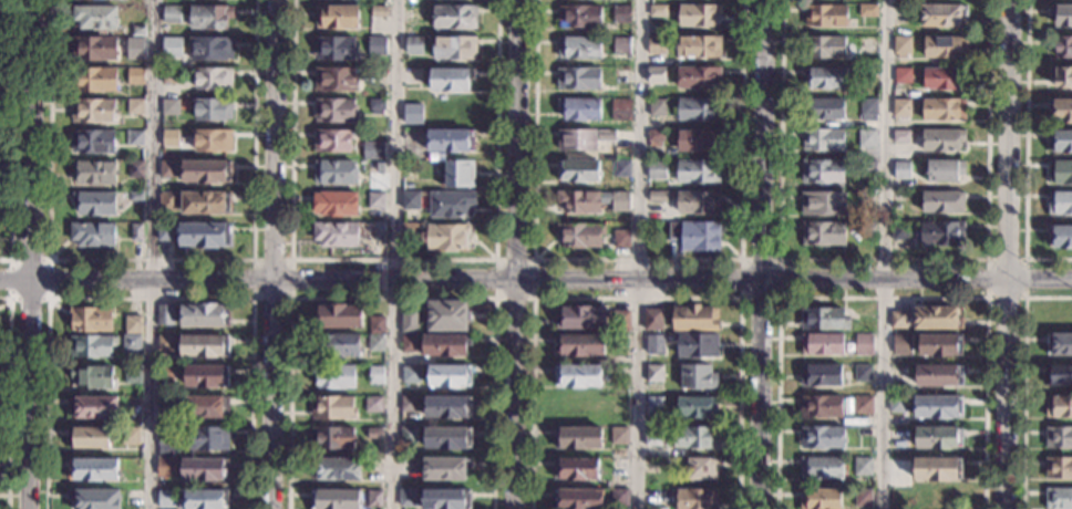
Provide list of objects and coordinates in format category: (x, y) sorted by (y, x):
building: (867, 10)
building: (658, 11)
building: (378, 12)
building: (171, 14)
building: (621, 14)
building: (904, 14)
building: (698, 15)
building: (826, 15)
building: (942, 15)
building: (210, 17)
building: (337, 17)
building: (455, 17)
building: (579, 17)
building: (1063, 17)
building: (96, 18)
building: (138, 31)
building: (414, 45)
building: (621, 45)
building: (657, 45)
building: (377, 46)
building: (698, 46)
building: (825, 46)
building: (901, 46)
building: (944, 46)
building: (136, 48)
building: (172, 48)
building: (579, 48)
building: (1063, 48)
building: (95, 49)
building: (336, 49)
building: (454, 49)
building: (210, 50)
building: (867, 73)
building: (171, 75)
building: (656, 75)
building: (903, 75)
building: (135, 76)
building: (413, 76)
building: (621, 76)
building: (377, 77)
building: (699, 77)
building: (1061, 77)
building: (214, 79)
building: (336, 79)
building: (579, 79)
building: (825, 79)
building: (942, 79)
building: (94, 80)
building: (451, 80)
building: (135, 106)
building: (377, 106)
building: (171, 107)
building: (657, 107)
building: (900, 107)
building: (579, 108)
building: (823, 108)
building: (213, 110)
building: (621, 110)
building: (697, 110)
building: (944, 110)
building: (93, 111)
building: (334, 111)
building: (868, 111)
building: (1060, 111)
building: (413, 113)
road: (12, 135)
building: (654, 135)
building: (606, 136)
road: (764, 136)
building: (901, 136)
building: (134, 137)
building: (171, 137)
building: (867, 138)
road: (1009, 138)
building: (942, 139)
building: (332, 141)
building: (451, 141)
building: (577, 141)
building: (699, 141)
building: (823, 141)
building: (93, 142)
building: (213, 142)
building: (1062, 142)
building: (373, 150)
road: (1025, 152)
building: (410, 167)
building: (375, 168)
building: (621, 168)
building: (135, 169)
building: (168, 169)
building: (866, 169)
building: (657, 170)
building: (901, 170)
building: (206, 172)
building: (334, 172)
building: (578, 172)
building: (698, 172)
building: (823, 172)
building: (945, 172)
building: (96, 173)
building: (1060, 173)
building: (457, 174)
building: (135, 197)
building: (620, 197)
building: (658, 197)
building: (866, 198)
building: (375, 200)
building: (411, 200)
building: (167, 201)
building: (579, 201)
building: (942, 201)
building: (698, 202)
building: (823, 202)
building: (1060, 202)
building: (95, 204)
building: (206, 204)
building: (336, 204)
building: (451, 205)
building: (896, 207)
building: (866, 227)
building: (379, 231)
building: (409, 231)
building: (899, 231)
building: (136, 232)
building: (165, 232)
building: (336, 233)
building: (823, 233)
building: (942, 233)
building: (93, 235)
building: (205, 236)
building: (579, 236)
building: (695, 236)
building: (447, 237)
building: (1061, 238)
building: (622, 239)
road: (31, 253)
road: (274, 253)
road: (393, 253)
road: (152, 254)
road: (518, 254)
road: (640, 254)
road: (884, 254)
road: (10, 259)
road: (150, 259)
road: (636, 259)
road: (882, 259)
road: (393, 260)
road: (495, 260)
road: (381, 274)
road: (886, 276)
road: (1040, 278)
road: (741, 295)
road: (252, 297)
road: (882, 297)
road: (986, 297)
road: (150, 298)
road: (391, 298)
road: (638, 298)
building: (165, 315)
building: (205, 315)
building: (338, 316)
building: (446, 316)
building: (580, 318)
building: (694, 319)
building: (937, 319)
building: (90, 320)
building: (620, 320)
building: (653, 320)
building: (824, 320)
building: (898, 320)
building: (410, 321)
building: (134, 325)
building: (377, 325)
building: (132, 343)
building: (165, 343)
building: (375, 343)
building: (409, 344)
building: (823, 344)
building: (864, 344)
building: (901, 344)
building: (1059, 344)
building: (205, 345)
building: (338, 345)
building: (445, 345)
building: (579, 345)
building: (653, 345)
building: (697, 345)
building: (939, 345)
building: (92, 346)
building: (653, 373)
building: (165, 374)
building: (862, 374)
building: (133, 375)
building: (411, 375)
building: (938, 375)
building: (207, 376)
building: (334, 376)
building: (375, 376)
building: (449, 376)
building: (578, 376)
building: (821, 376)
building: (1059, 376)
building: (93, 377)
building: (698, 377)
road: (1023, 378)
road: (762, 392)
road: (1008, 393)
road: (8, 398)
building: (409, 404)
building: (165, 405)
building: (373, 405)
building: (862, 405)
building: (897, 405)
building: (654, 406)
building: (821, 406)
building: (94, 407)
building: (206, 407)
building: (447, 407)
building: (697, 407)
building: (1059, 407)
building: (133, 408)
building: (334, 408)
building: (938, 408)
building: (864, 433)
building: (374, 434)
building: (408, 435)
building: (619, 435)
building: (131, 436)
building: (166, 436)
building: (333, 437)
building: (652, 437)
building: (89, 438)
building: (208, 438)
building: (446, 438)
building: (578, 438)
building: (695, 438)
building: (823, 438)
building: (938, 438)
building: (1059, 438)
building: (651, 466)
building: (409, 467)
building: (862, 467)
building: (165, 468)
building: (576, 468)
building: (618, 468)
building: (821, 468)
building: (1058, 468)
building: (93, 469)
building: (204, 469)
building: (336, 469)
building: (447, 469)
building: (702, 469)
building: (937, 469)
building: (618, 497)
building: (408, 498)
building: (446, 498)
building: (578, 498)
building: (95, 499)
building: (164, 499)
building: (203, 499)
building: (334, 499)
building: (374, 499)
building: (694, 499)
building: (822, 499)
building: (863, 499)
building: (939, 499)
building: (1059, 499)

